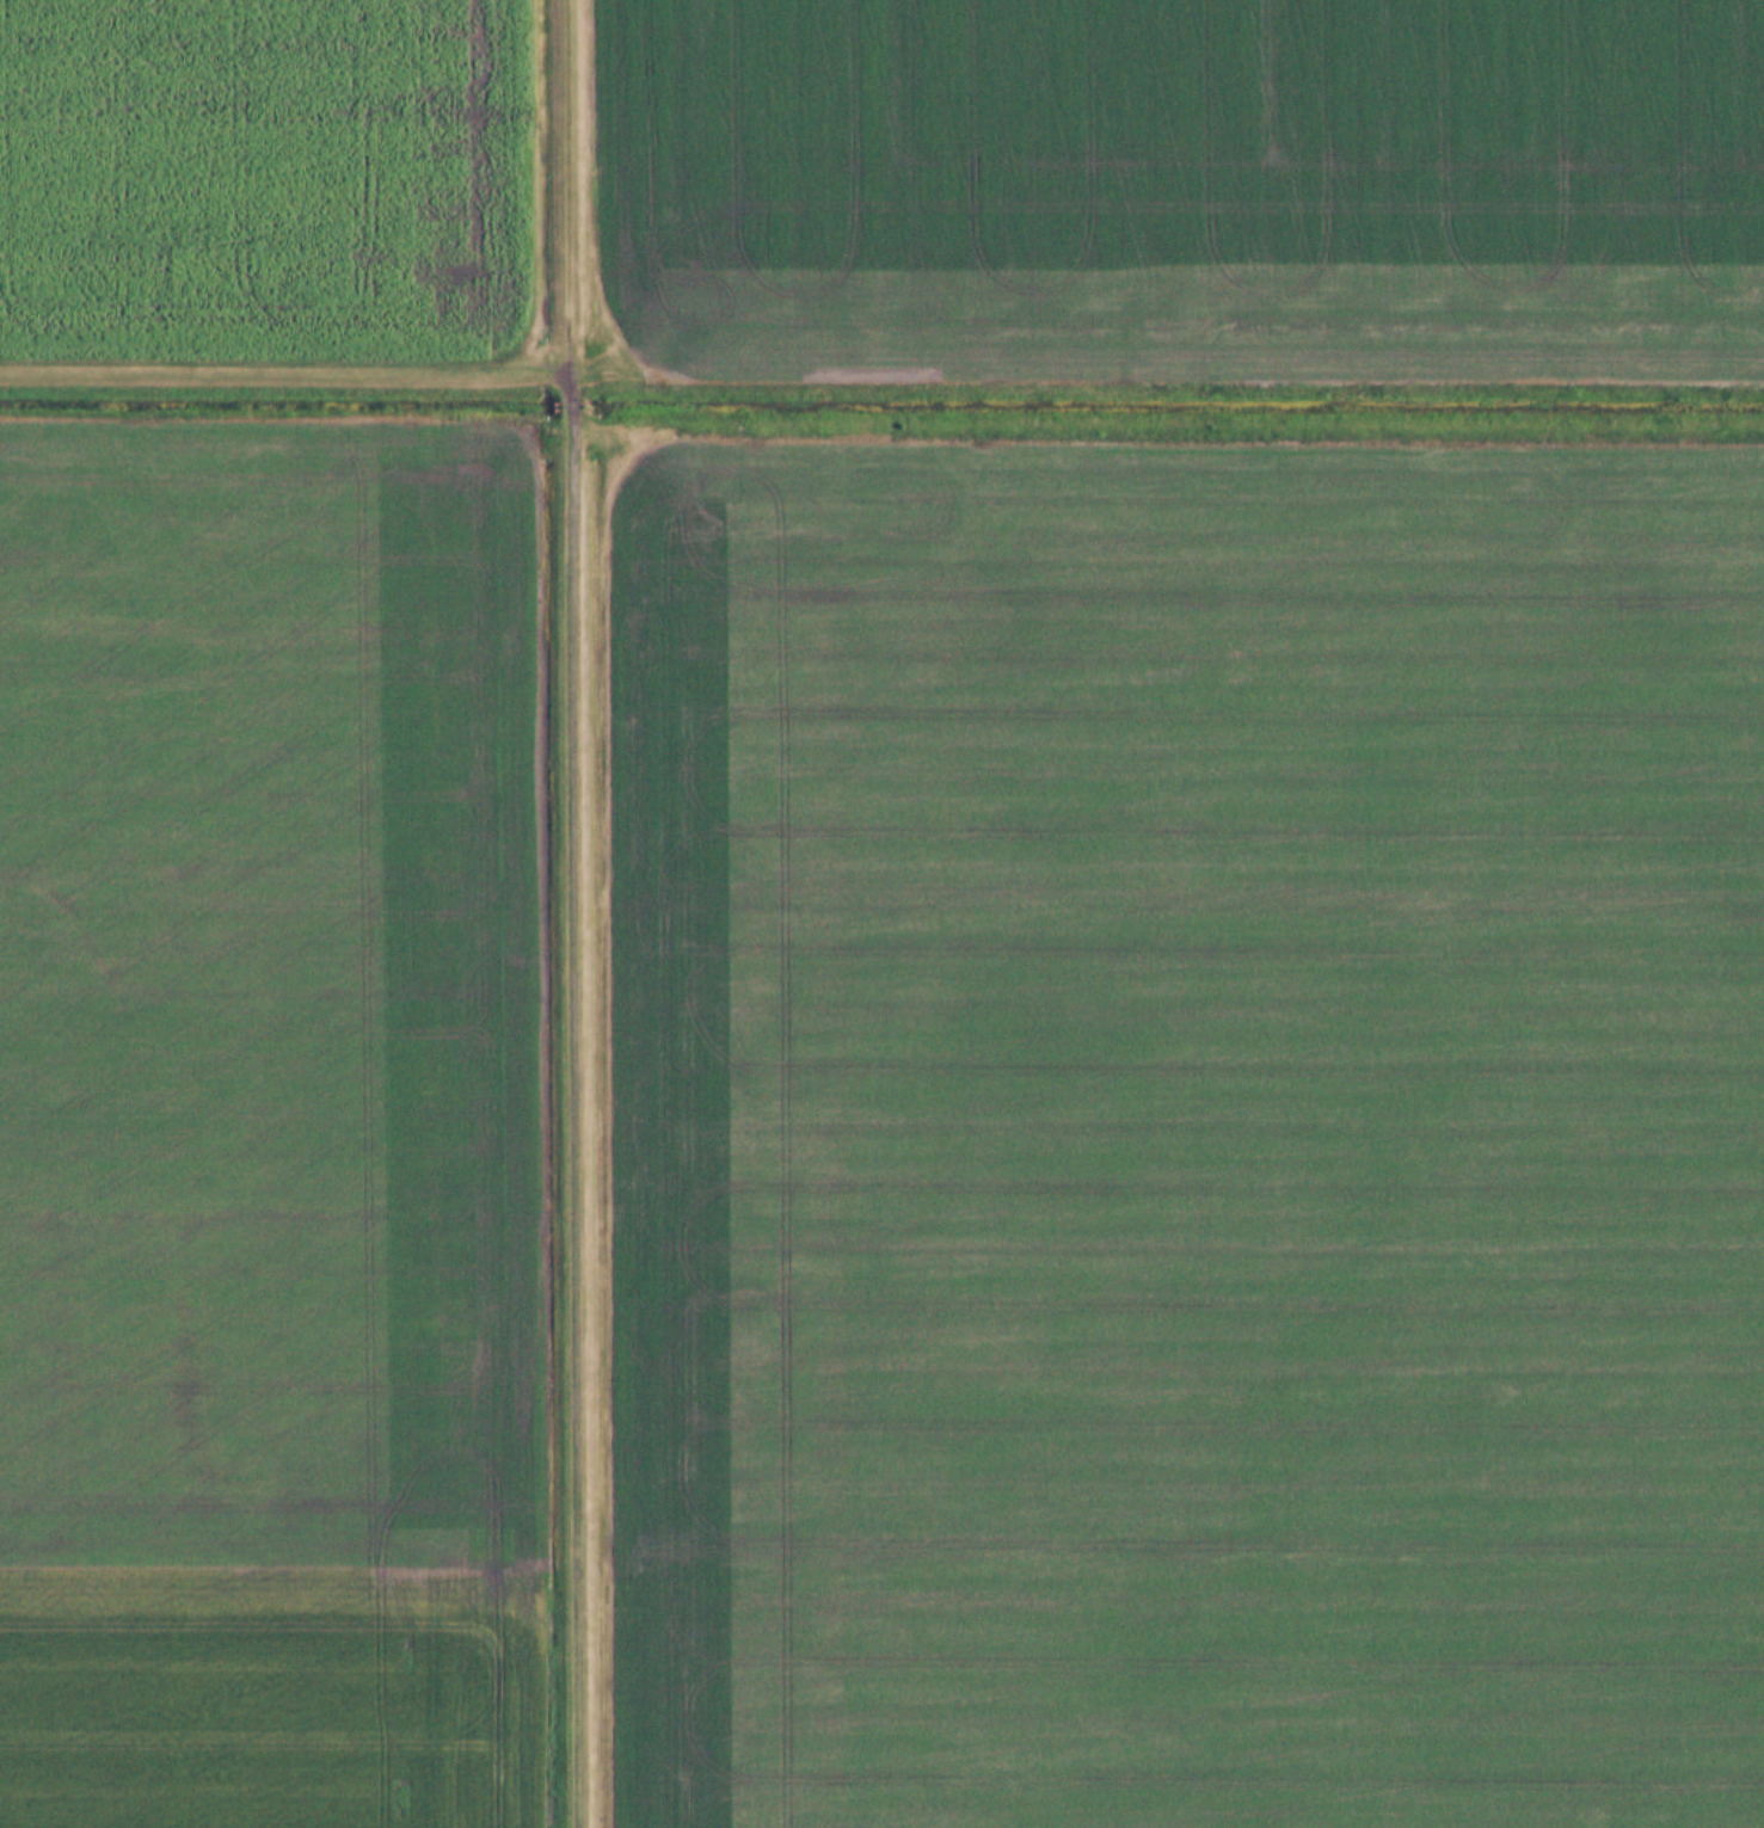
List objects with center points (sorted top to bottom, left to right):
crop: (257, 166)
crop: (1191, 179)
road: (285, 364)
road: (572, 913)
crop: (268, 1131)
crop: (1192, 1132)

